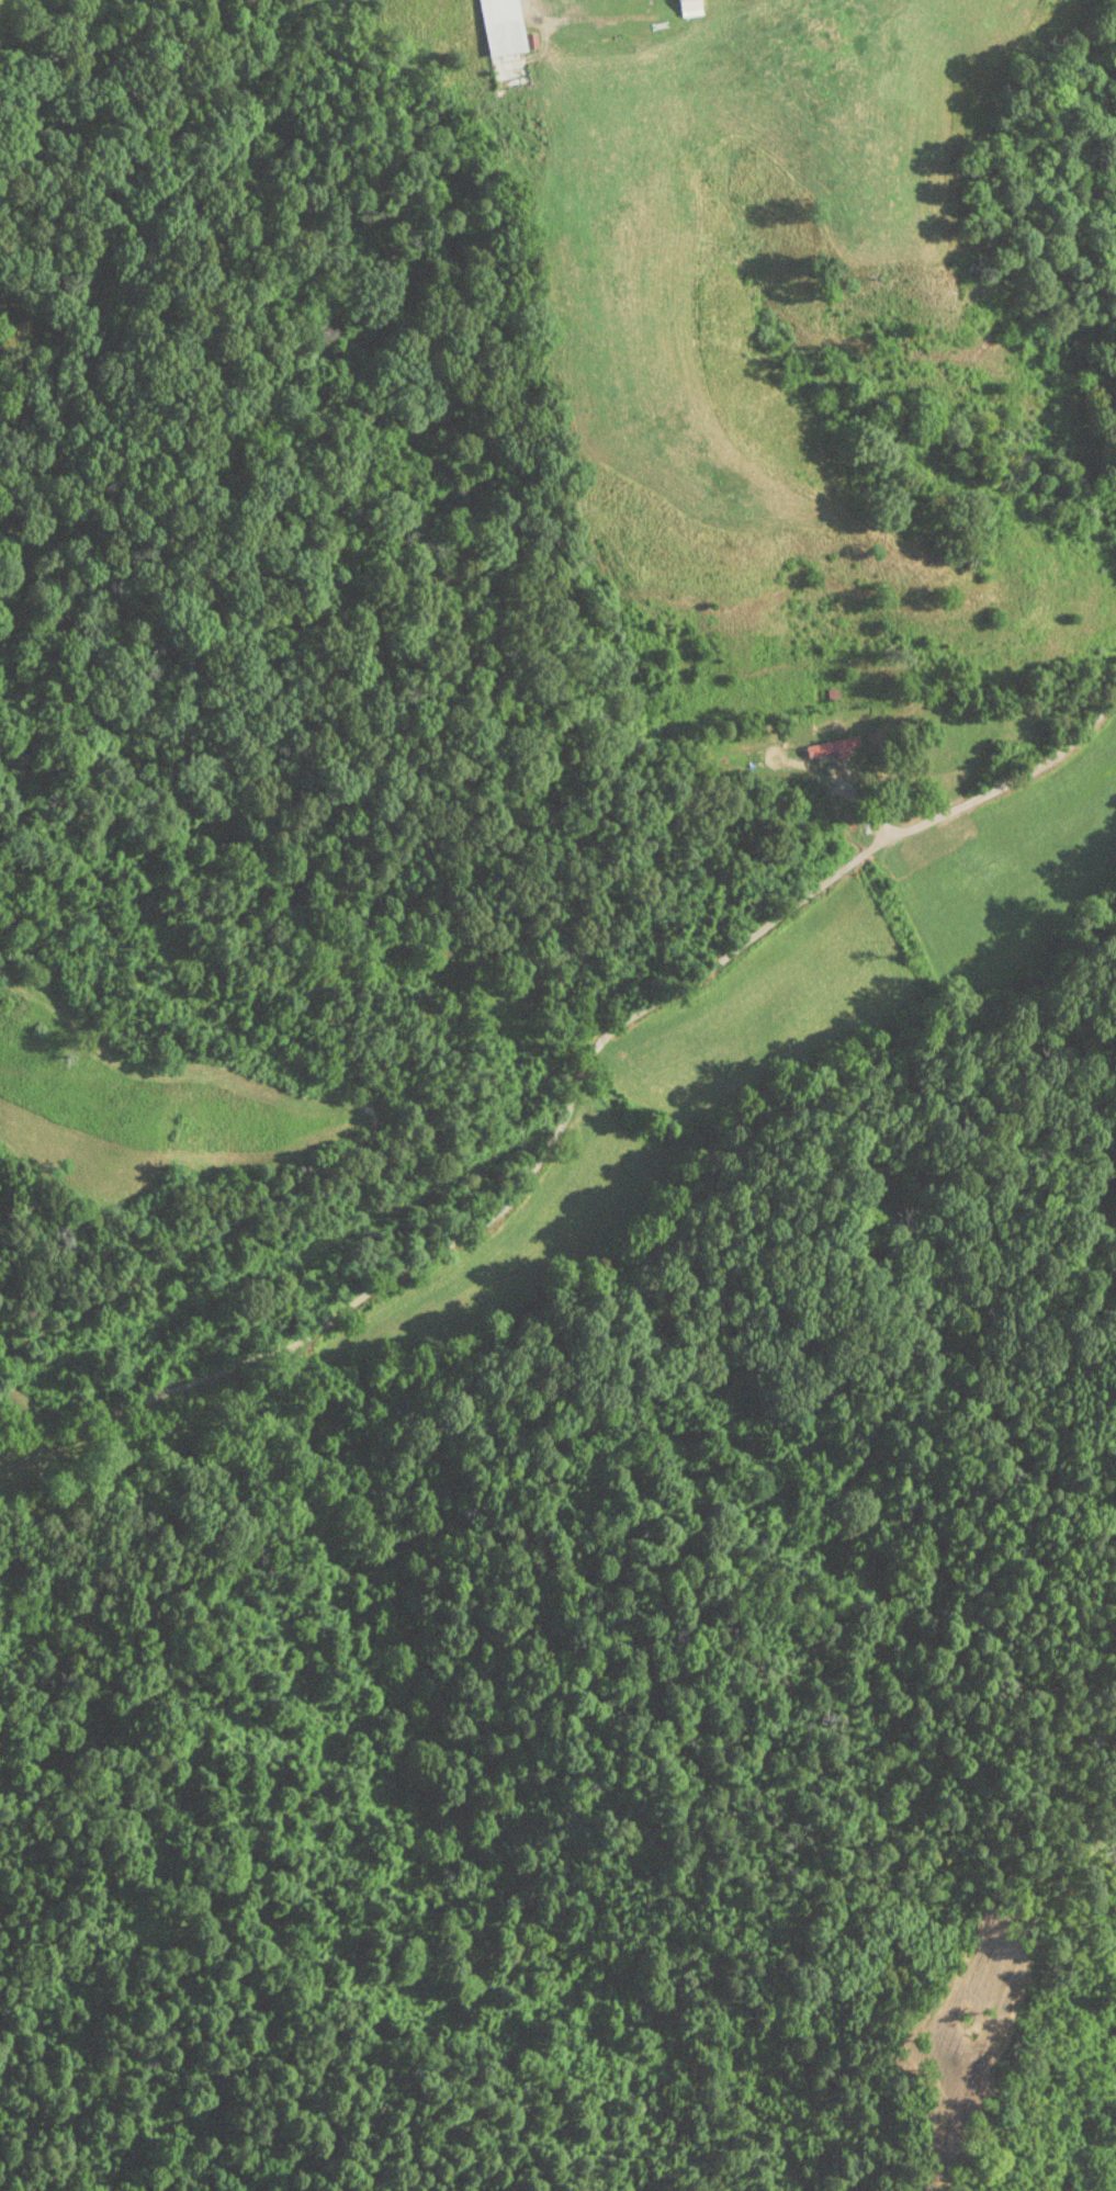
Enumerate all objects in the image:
building: (698, 7)
building: (500, 27)
building: (832, 747)
road: (562, 1118)

